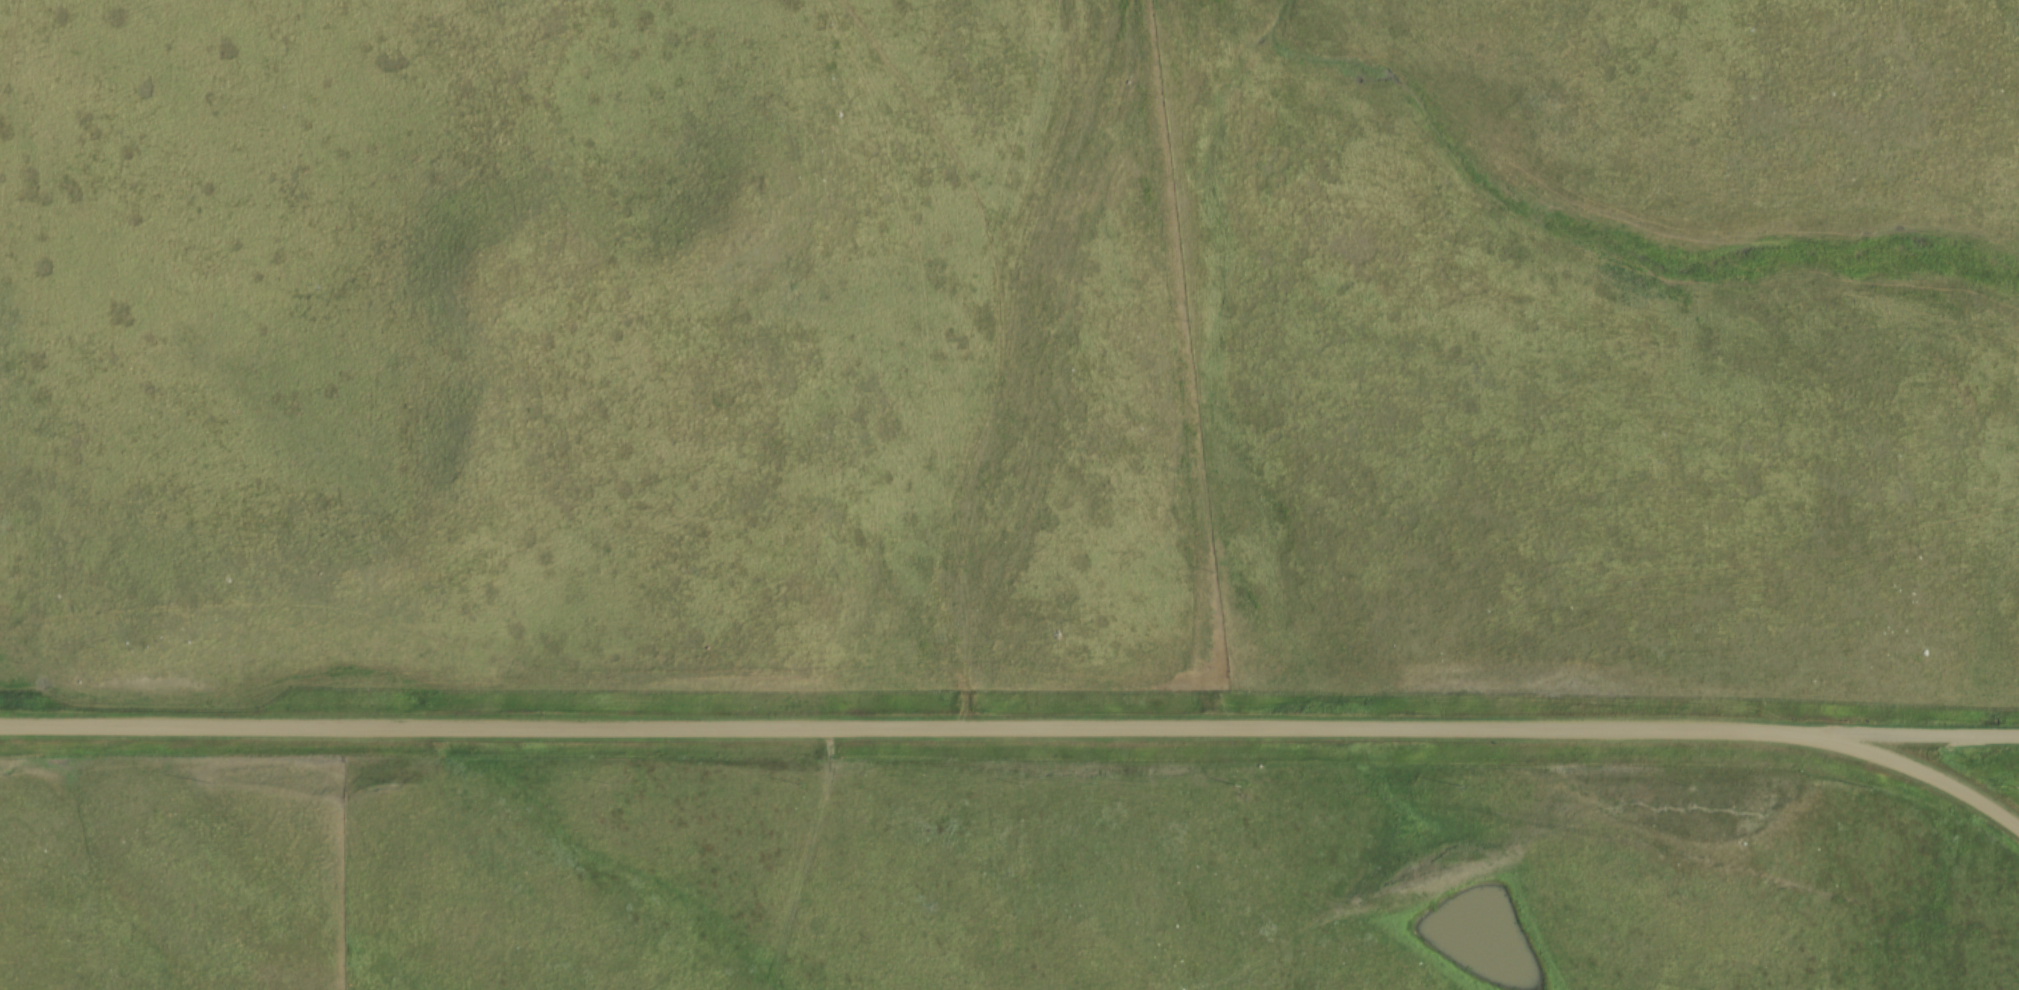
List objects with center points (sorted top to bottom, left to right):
road: (1009, 738)
road: (1915, 771)

